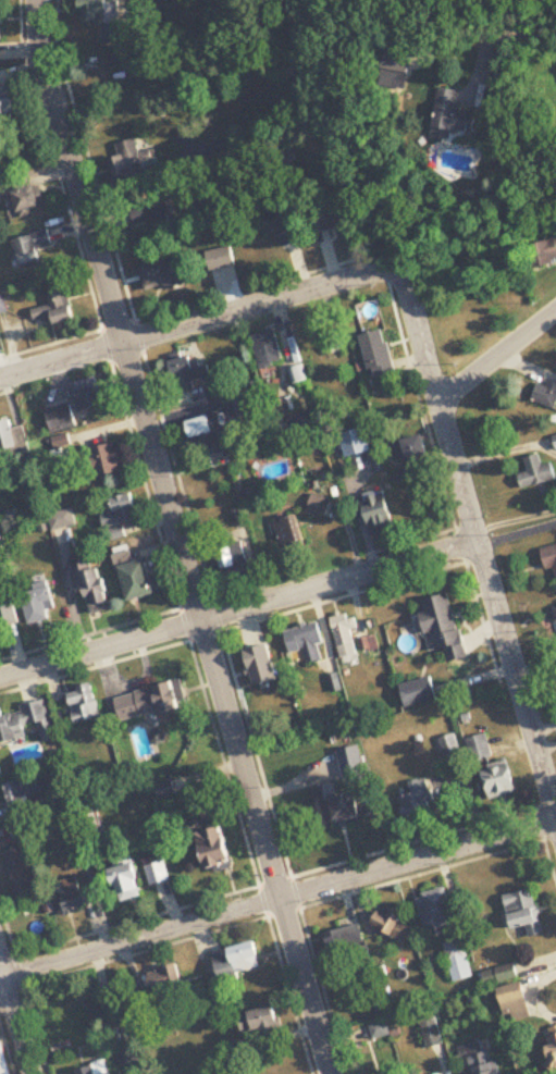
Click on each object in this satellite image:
building: (106, 17)
building: (0, 24)
road: (512, 51)
building: (121, 61)
building: (400, 65)
building: (5, 101)
building: (457, 118)
building: (207, 151)
building: (132, 166)
building: (30, 202)
building: (153, 217)
building: (329, 221)
building: (283, 226)
building: (33, 249)
building: (542, 254)
building: (222, 259)
building: (164, 275)
road: (267, 303)
building: (2, 304)
building: (55, 310)
building: (267, 349)
building: (380, 355)
road: (499, 365)
building: (299, 375)
building: (196, 379)
building: (547, 395)
building: (88, 397)
building: (58, 420)
building: (301, 428)
building: (212, 437)
building: (555, 439)
building: (359, 442)
building: (9, 443)
building: (418, 450)
road: (505, 452)
building: (109, 461)
building: (536, 473)
building: (317, 505)
building: (122, 517)
building: (381, 517)
building: (63, 519)
road: (515, 520)
building: (292, 533)
road: (176, 538)
building: (551, 558)
building: (234, 559)
building: (139, 577)
building: (97, 592)
building: (38, 606)
road: (237, 608)
road: (496, 614)
building: (9, 615)
building: (445, 628)
building: (345, 635)
building: (306, 641)
building: (368, 644)
building: (419, 693)
building: (151, 702)
building: (85, 704)
building: (25, 725)
building: (448, 745)
building: (479, 748)
building: (502, 782)
building: (21, 794)
building: (419, 800)
building: (338, 805)
building: (92, 826)
building: (217, 850)
building: (158, 873)
building: (23, 874)
building: (129, 886)
road: (277, 898)
building: (75, 902)
building: (435, 909)
building: (524, 912)
building: (394, 926)
building: (344, 939)
building: (458, 961)
building: (238, 962)
building: (499, 975)
building: (164, 978)
building: (517, 1008)
road: (15, 1019)
building: (261, 1021)
building: (379, 1030)
building: (431, 1033)
building: (552, 1047)
building: (470, 1049)
building: (3, 1058)
building: (483, 1070)
building: (442, 1073)

